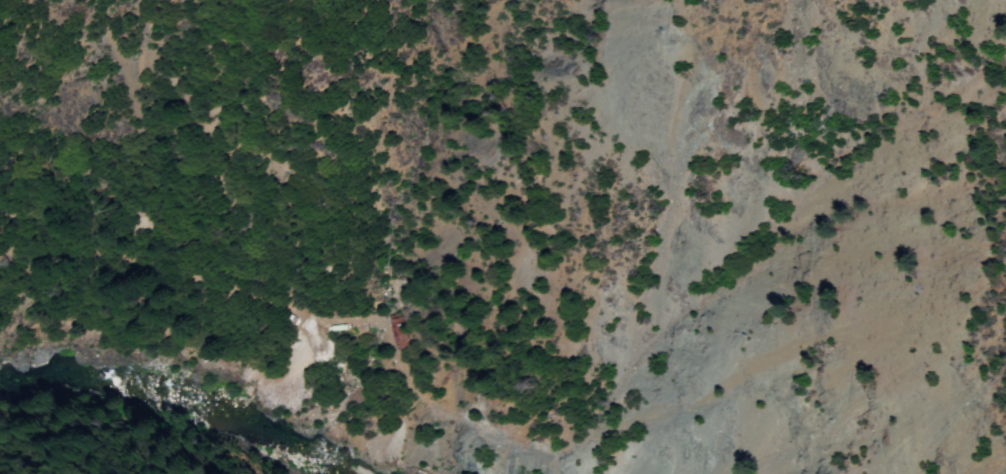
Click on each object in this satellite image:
river: (176, 395)
road: (450, 416)

